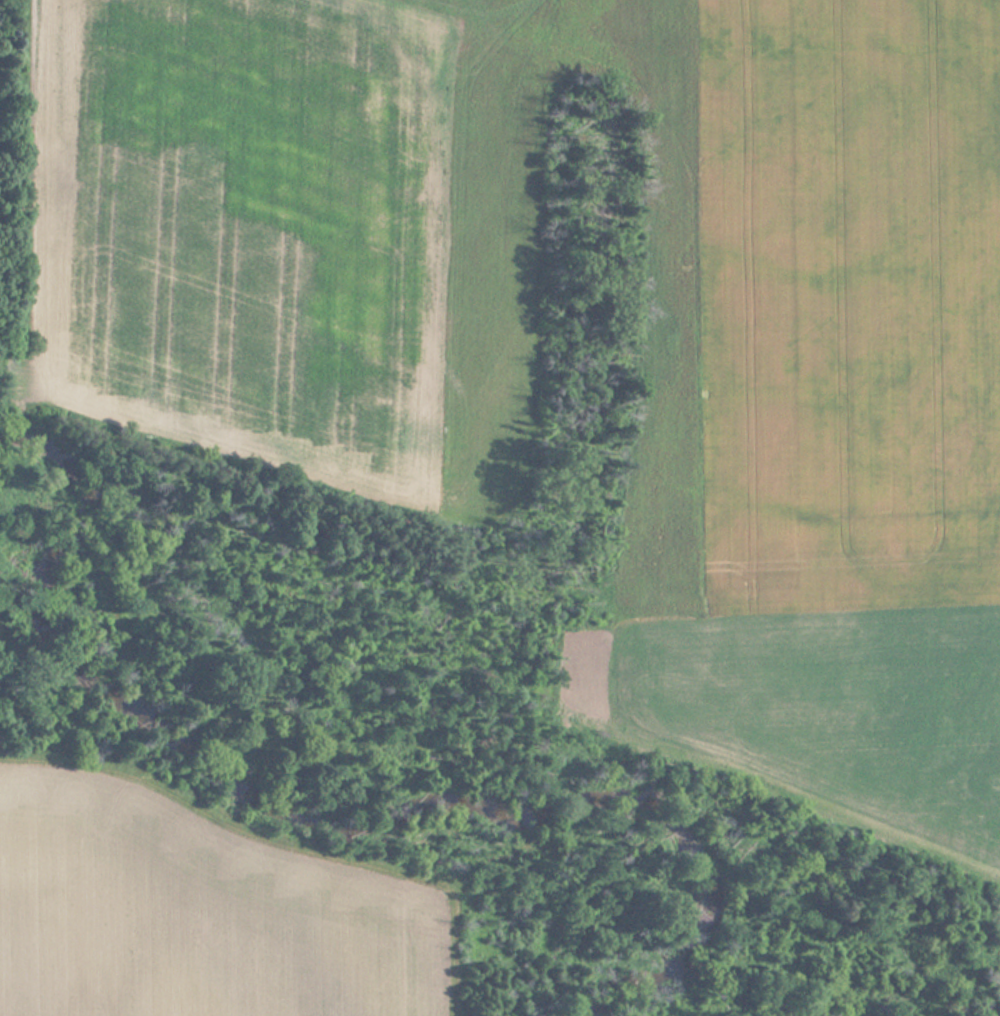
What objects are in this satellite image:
river: (520, 823)

